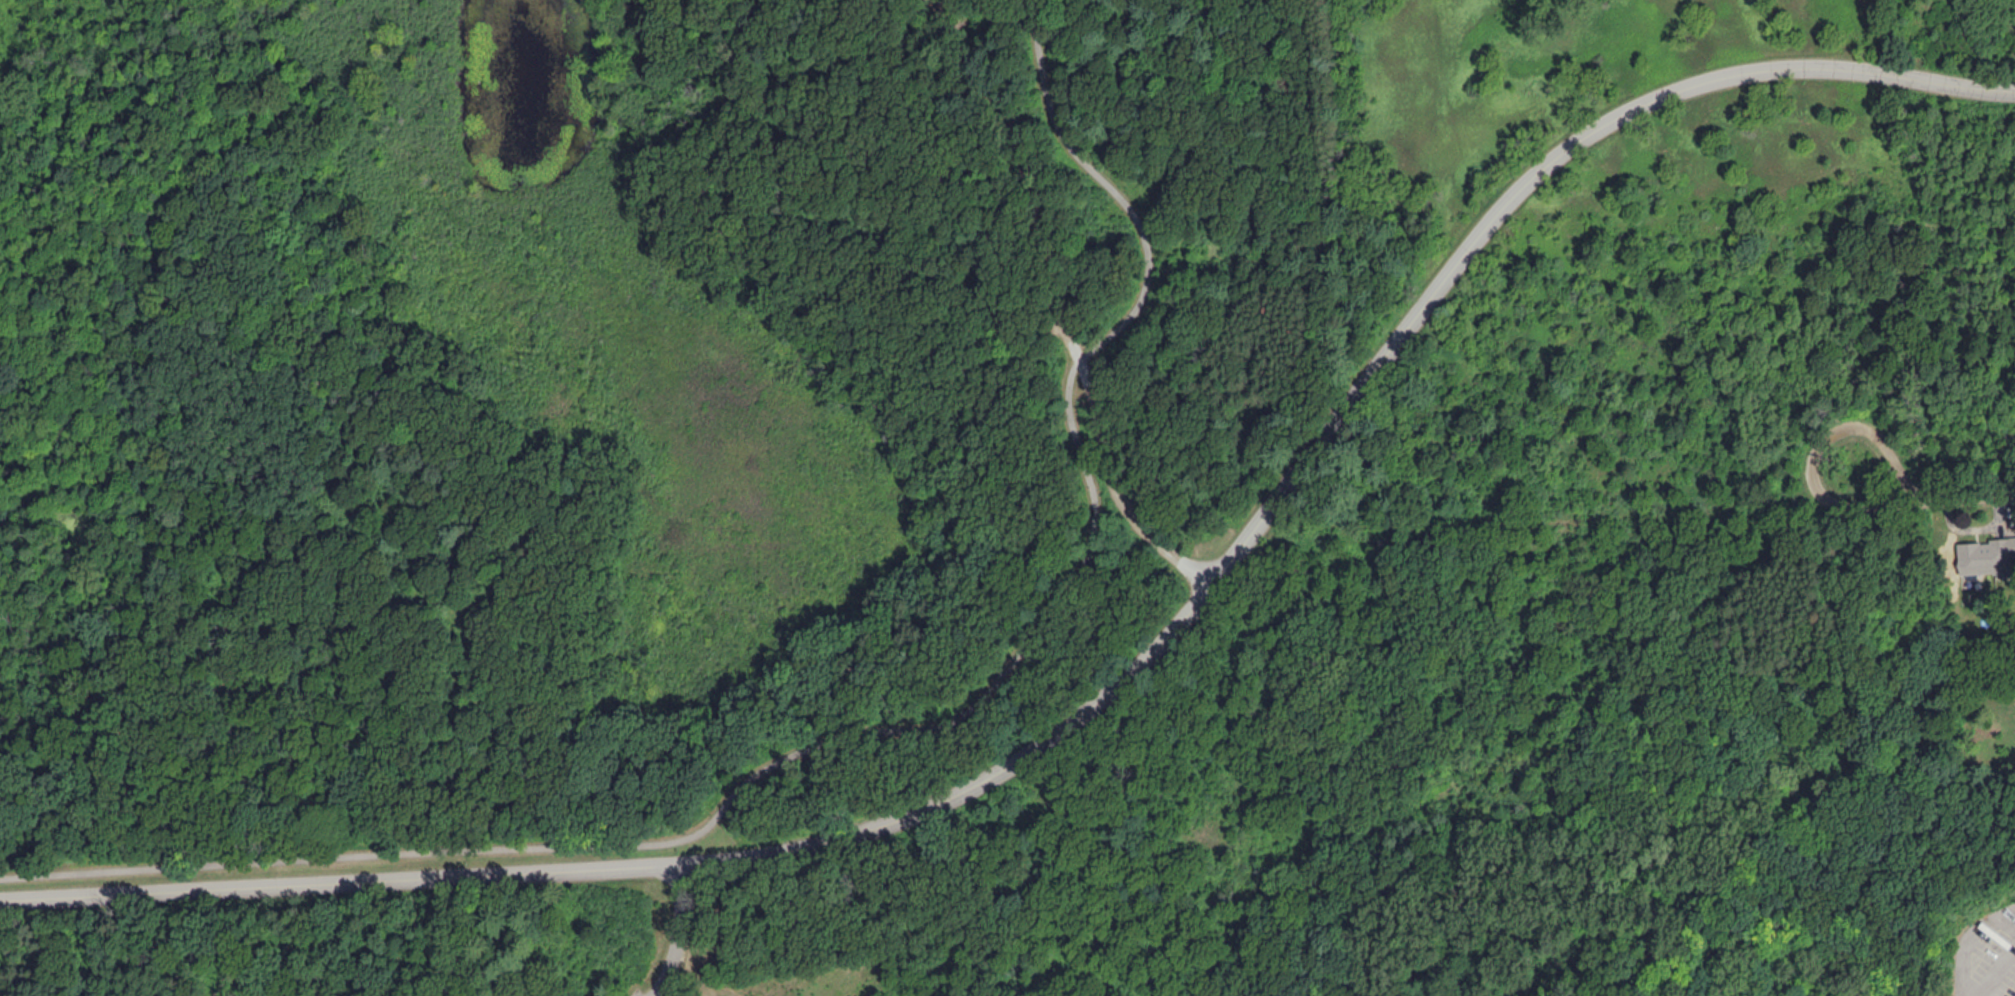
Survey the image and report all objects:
parking lot: (937, 16)
road: (774, 83)
road: (1061, 300)
parking lot: (1058, 325)
road: (1024, 340)
park: (983, 492)
road: (1953, 497)
road: (1842, 503)
road: (1527, 519)
building: (1985, 555)
road: (1118, 680)
road: (721, 706)
road: (880, 732)
road: (927, 910)
road: (674, 932)
road: (1967, 940)
parking lot: (642, 992)

